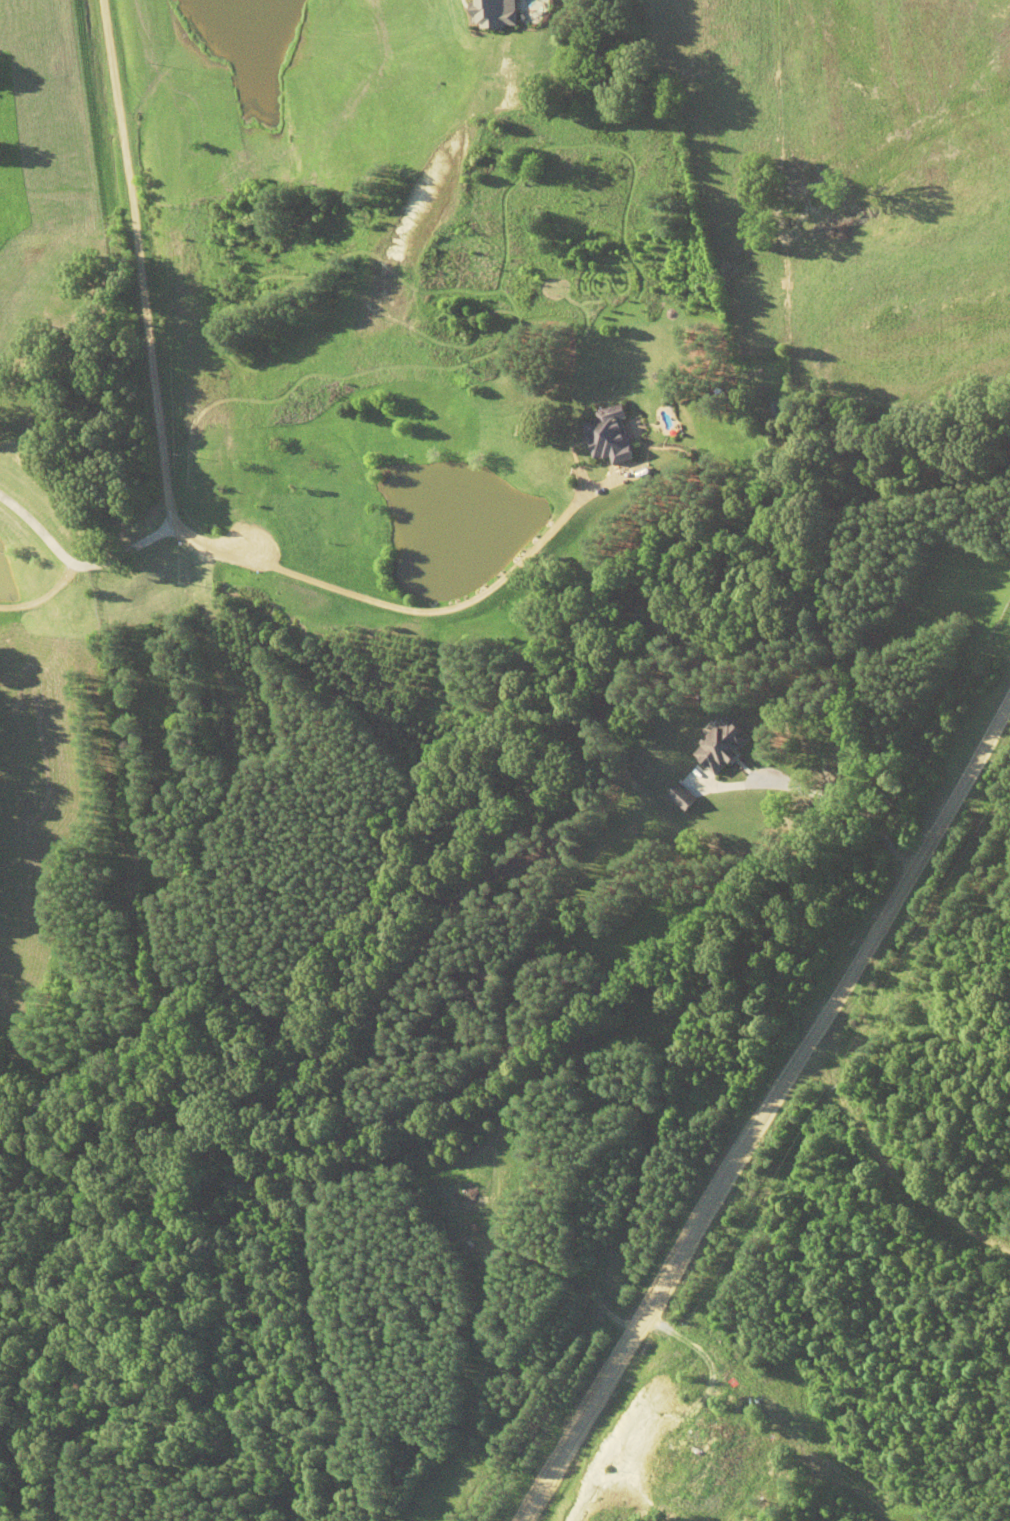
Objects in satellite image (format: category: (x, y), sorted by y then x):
road: (166, 509)
road: (76, 560)
building: (722, 746)
road: (765, 1107)

